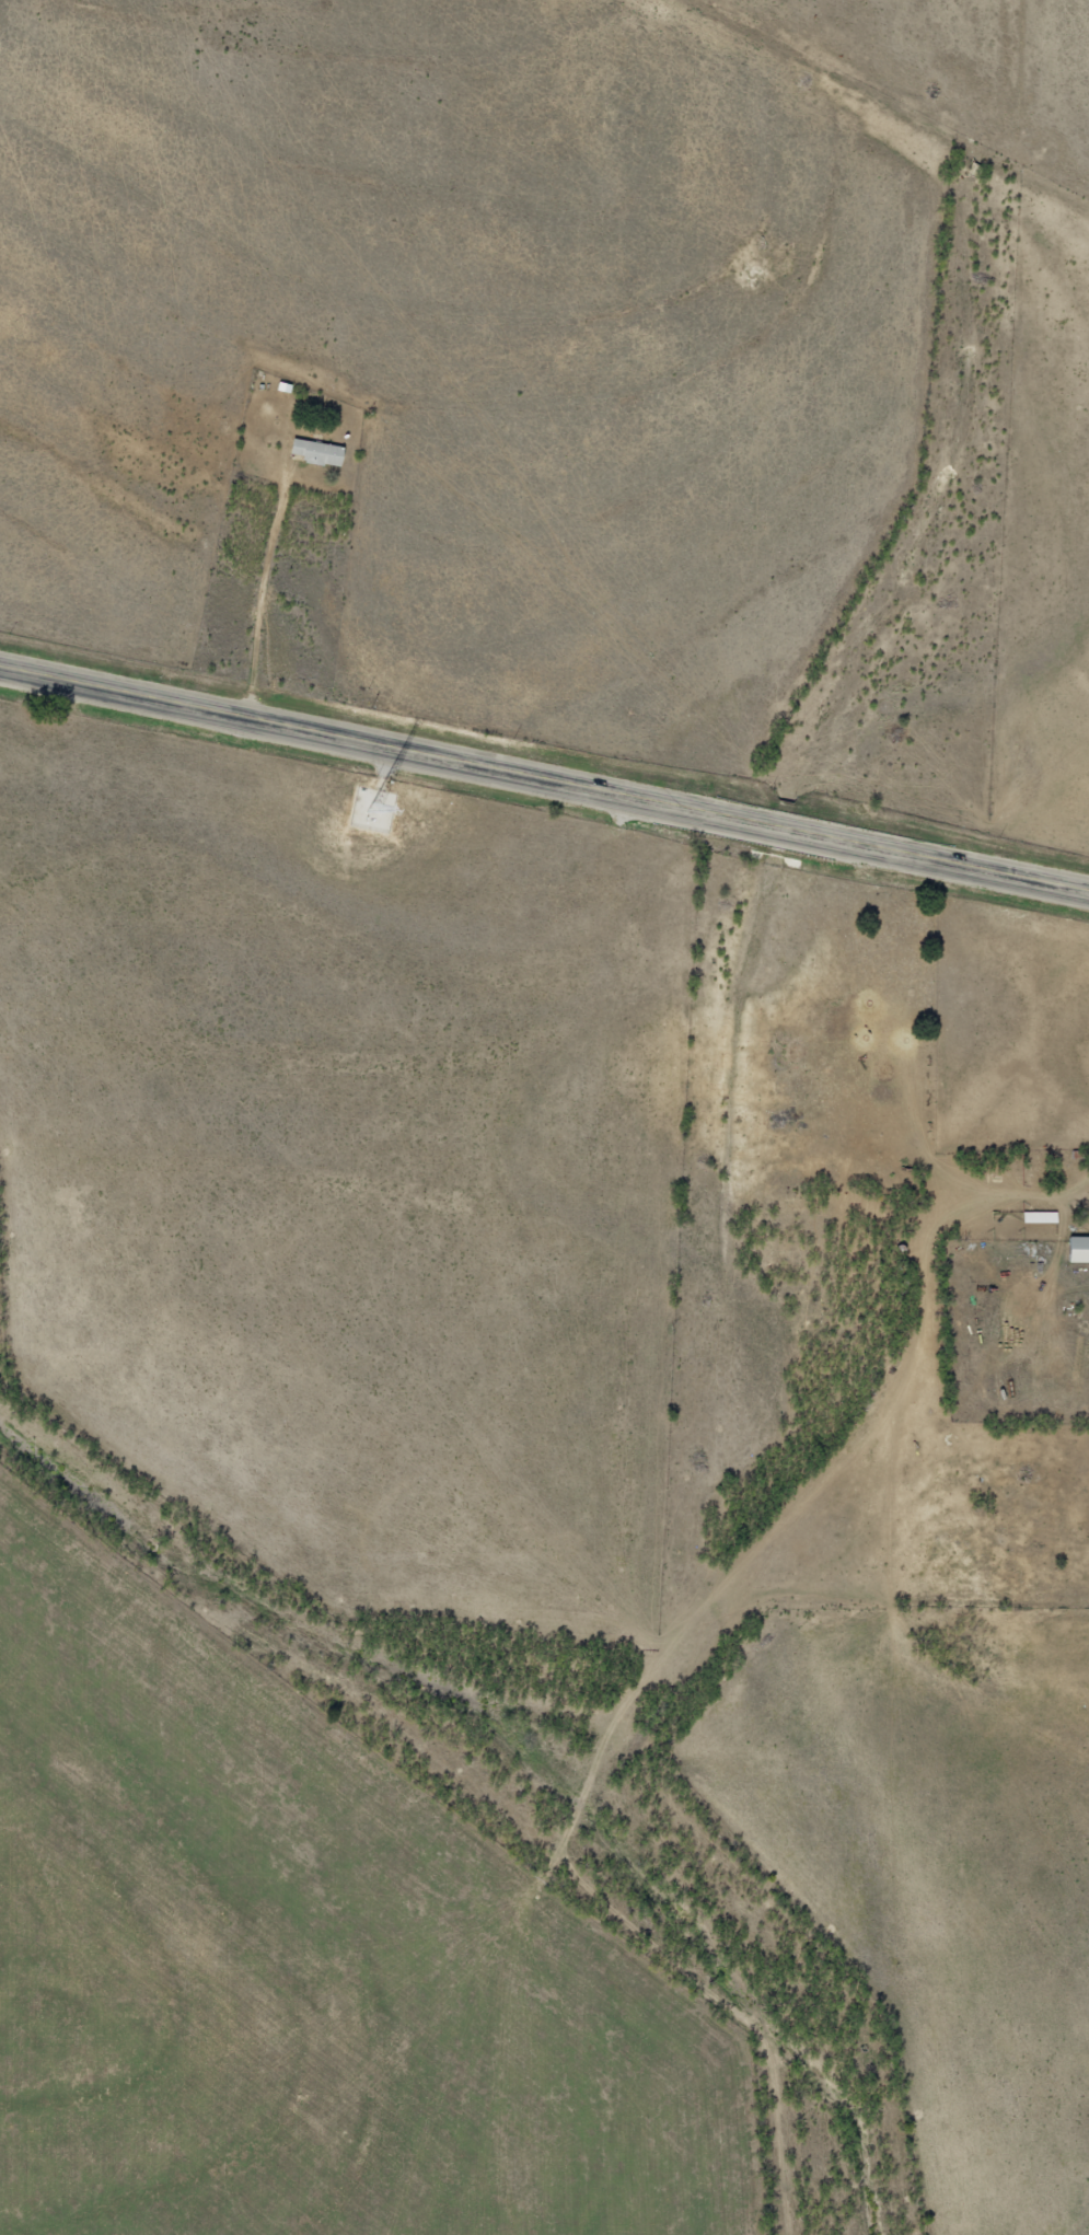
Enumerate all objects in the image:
building: (315, 452)
road: (544, 777)
building: (1077, 1250)

